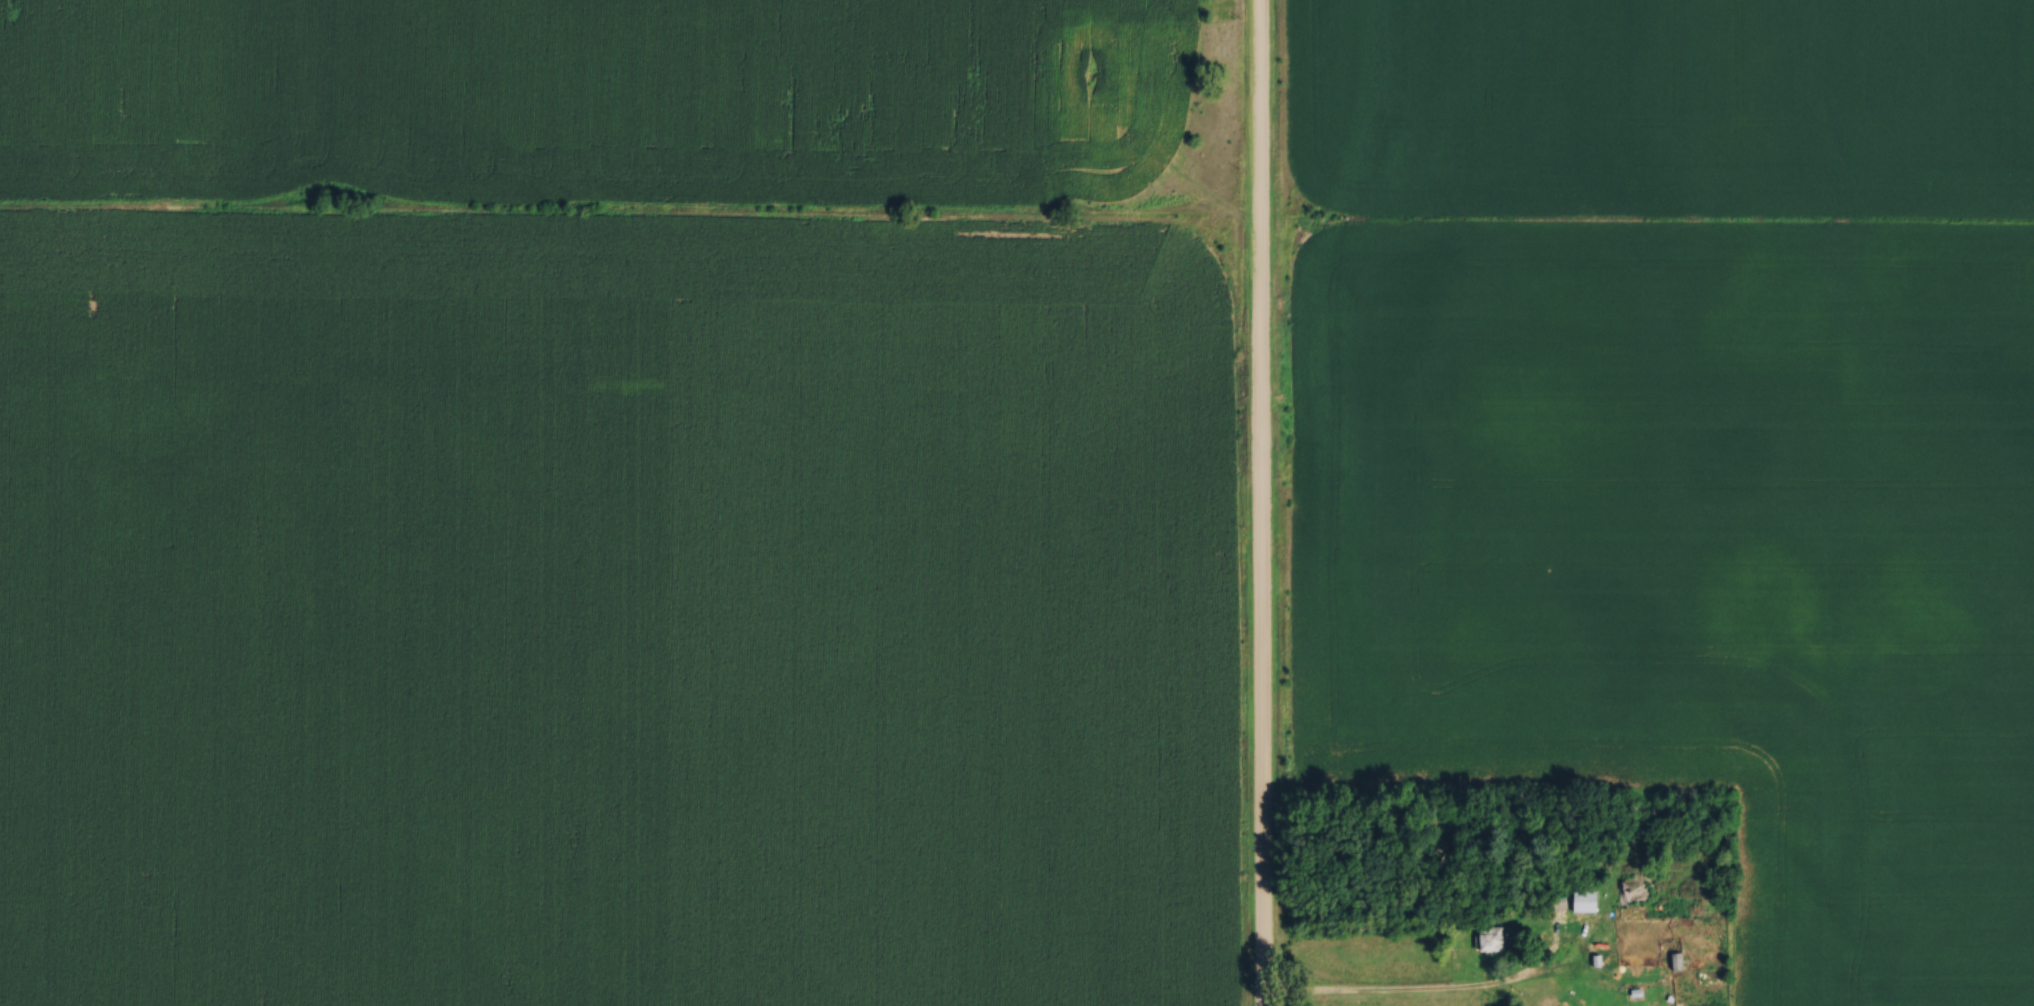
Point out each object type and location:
road: (1259, 503)
building: (1590, 899)
building: (1639, 899)
building: (1495, 938)
road: (1407, 991)

